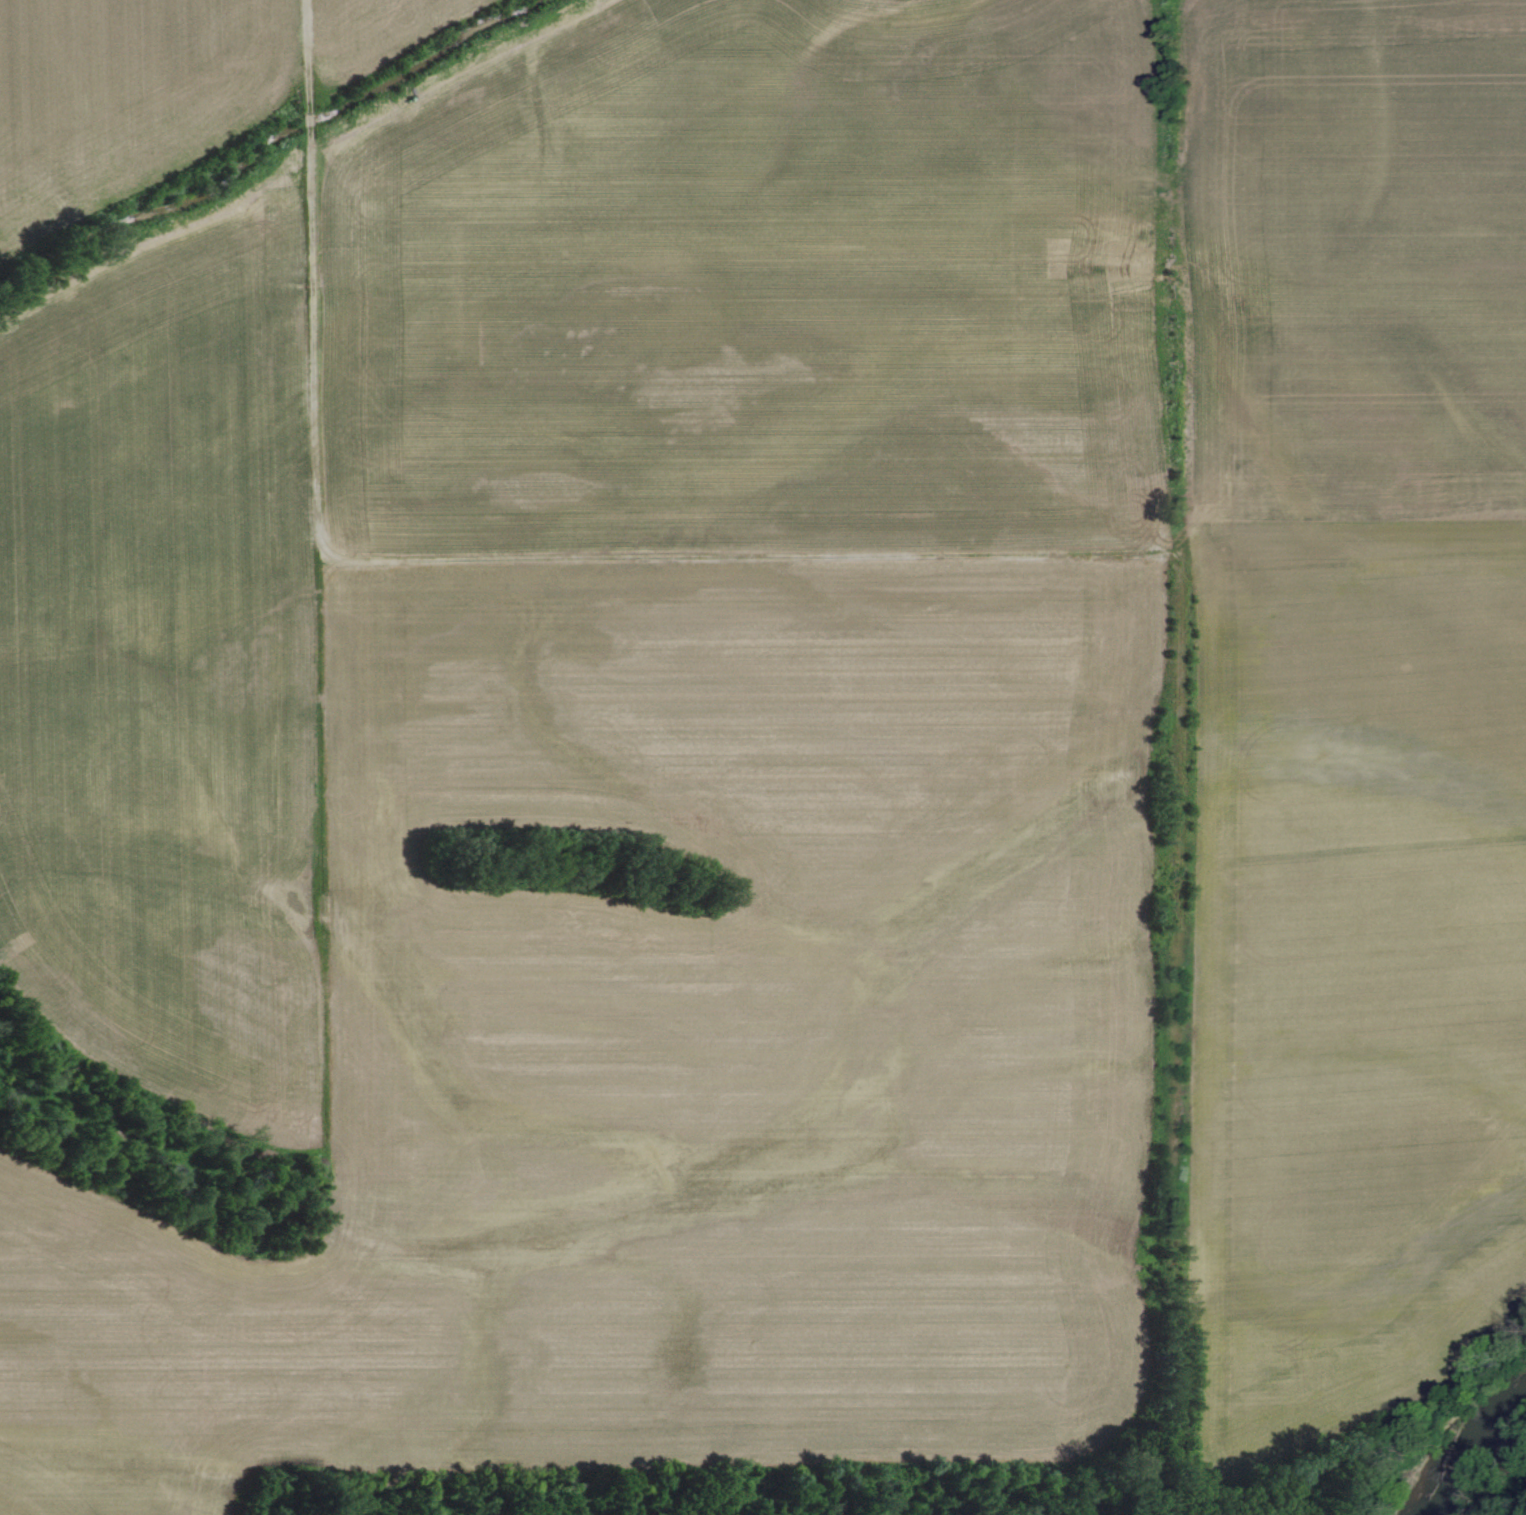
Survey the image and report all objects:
river: (1479, 1452)

